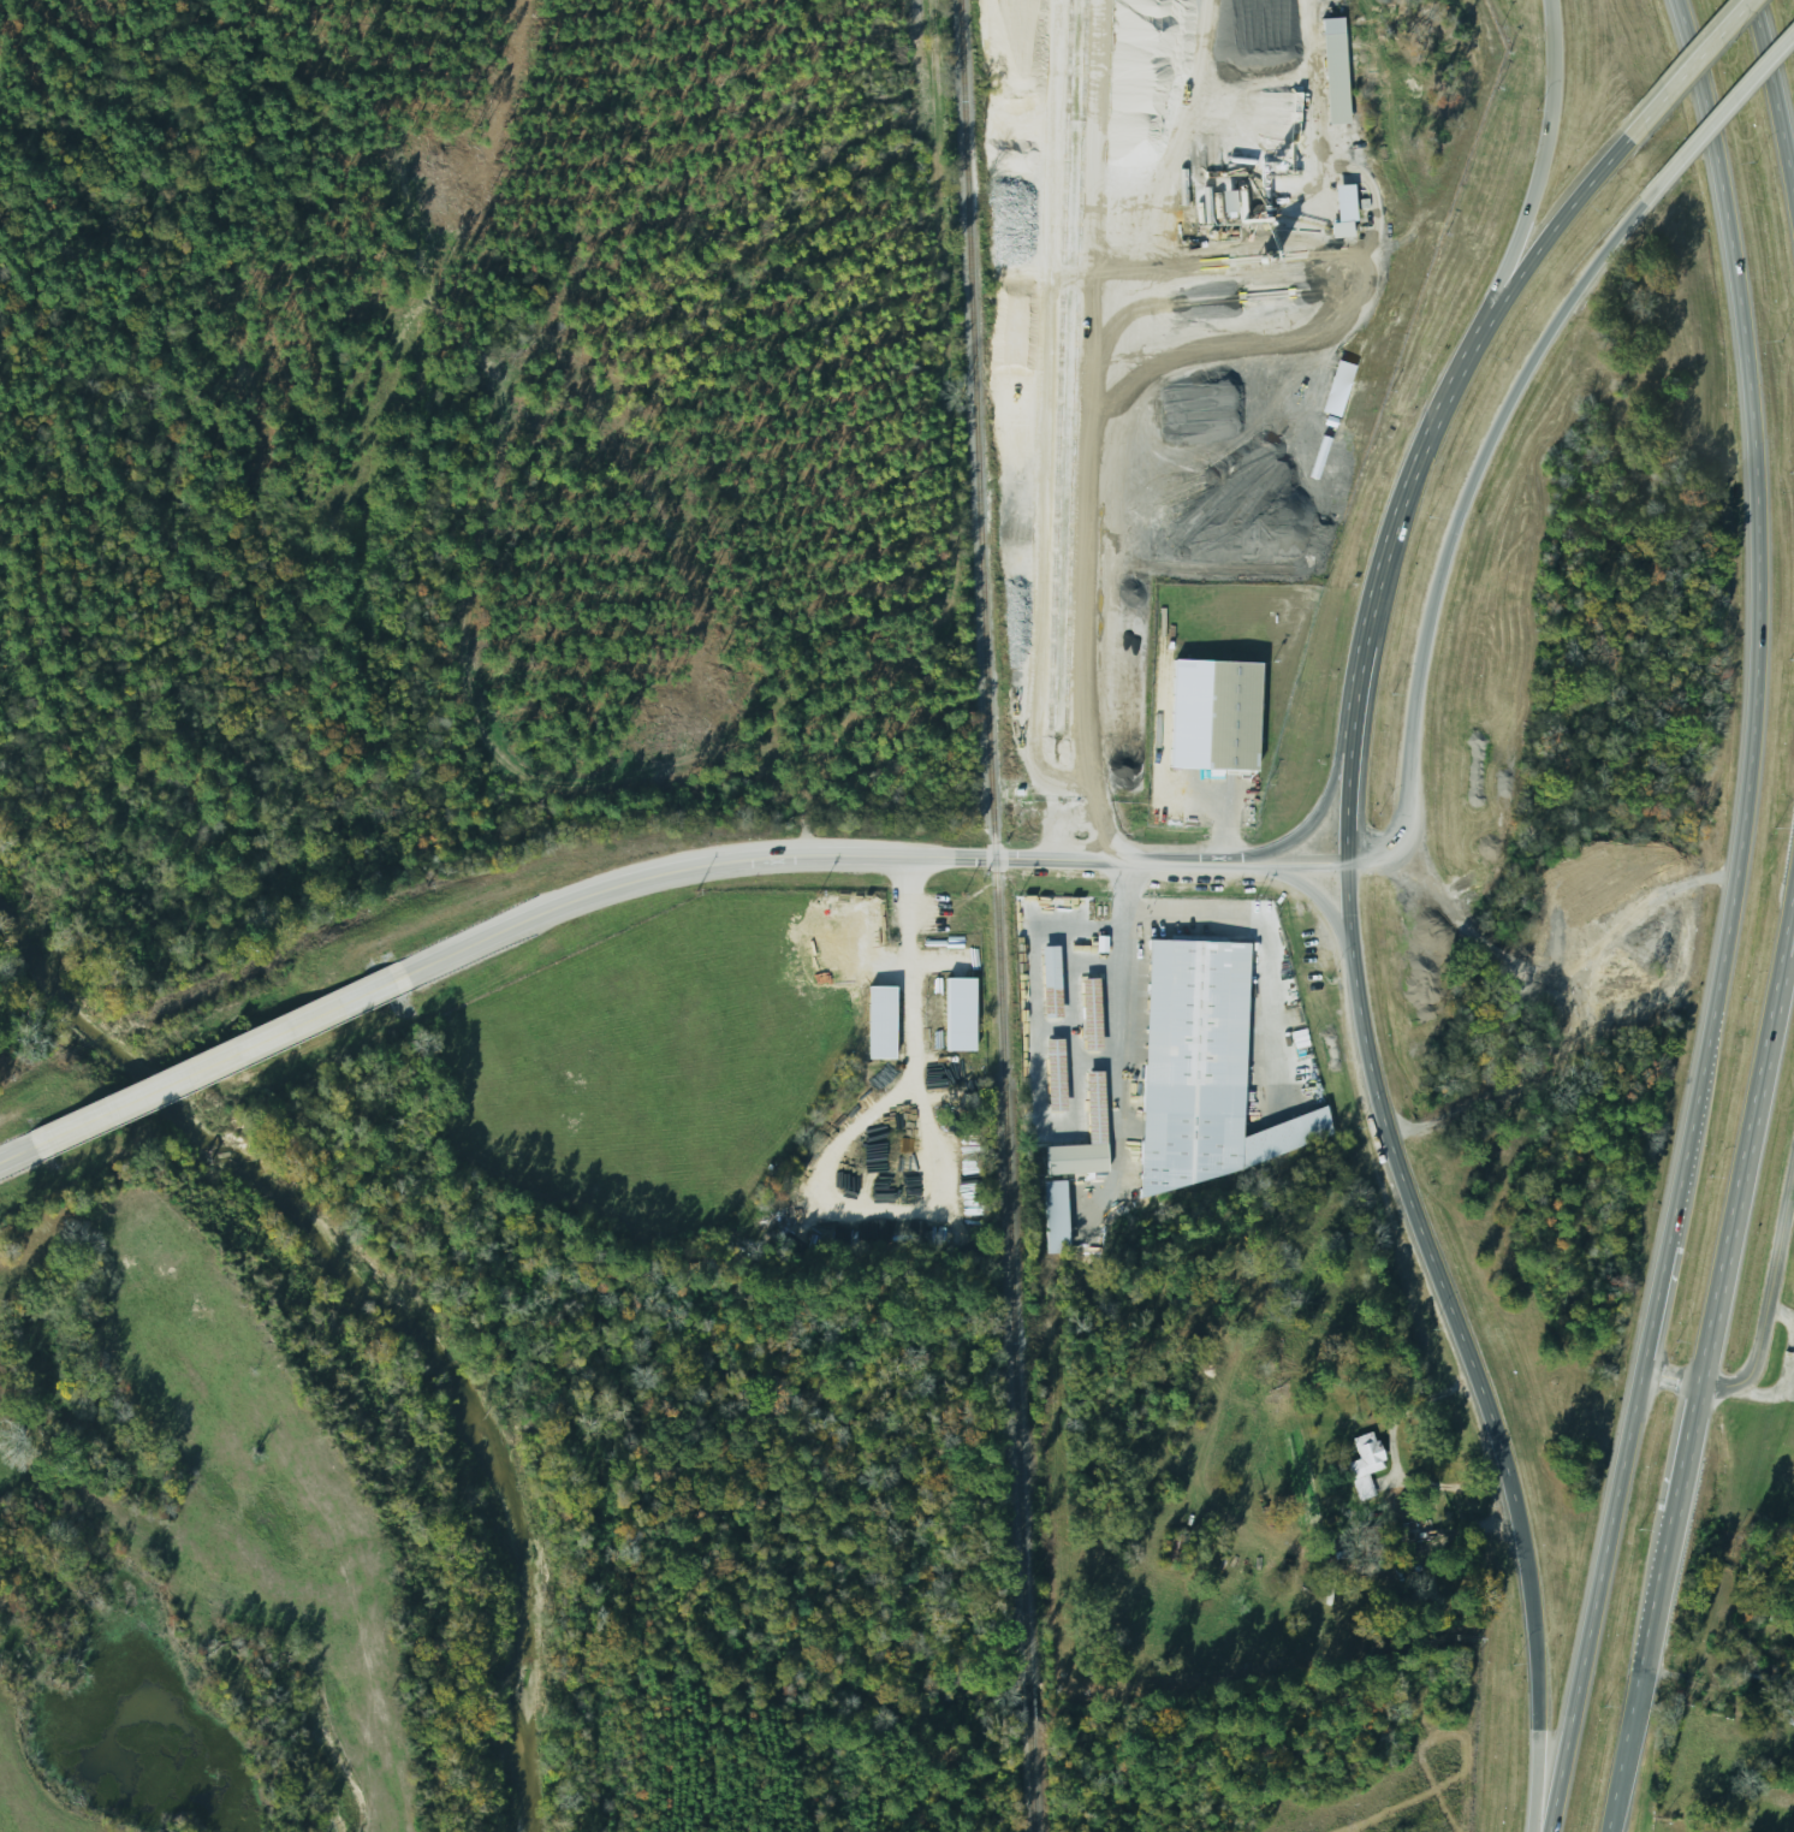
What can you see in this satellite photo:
road: (1688, 65)
building: (1330, 78)
road: (1736, 93)
road: (1772, 106)
road: (1533, 182)
railway: (1057, 372)
road: (1415, 469)
road: (1753, 481)
road: (1461, 498)
building: (1223, 716)
road: (1323, 796)
road: (802, 853)
road: (1235, 860)
road: (1297, 861)
road: (1315, 900)
railway: (996, 915)
road: (1783, 919)
road: (1784, 954)
building: (1045, 982)
building: (1085, 1014)
road: (226, 1054)
building: (1186, 1062)
building: (1049, 1075)
building: (1089, 1109)
road: (22, 1148)
road: (1679, 1168)
road: (1404, 1194)
building: (1049, 1217)
road: (1764, 1324)
road: (1694, 1403)
building: (1360, 1465)
building: (1169, 1549)
road: (1594, 1600)
road: (1534, 1673)
building: (1759, 1674)
building: (1780, 1711)

